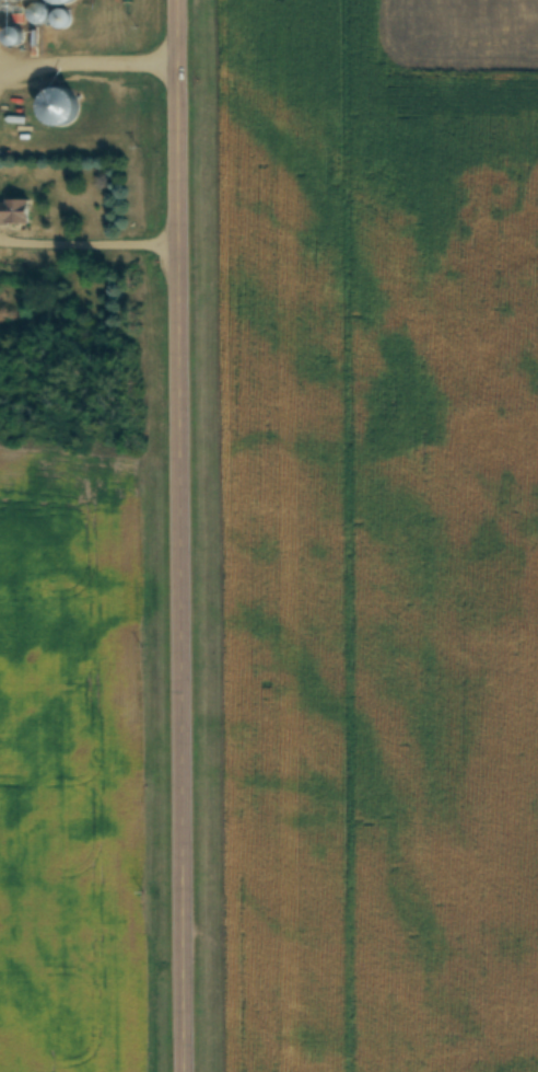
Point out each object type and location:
building: (24, 0)
building: (66, 3)
building: (60, 19)
road: (89, 64)
building: (63, 104)
building: (15, 212)
road: (90, 242)
road: (182, 535)

